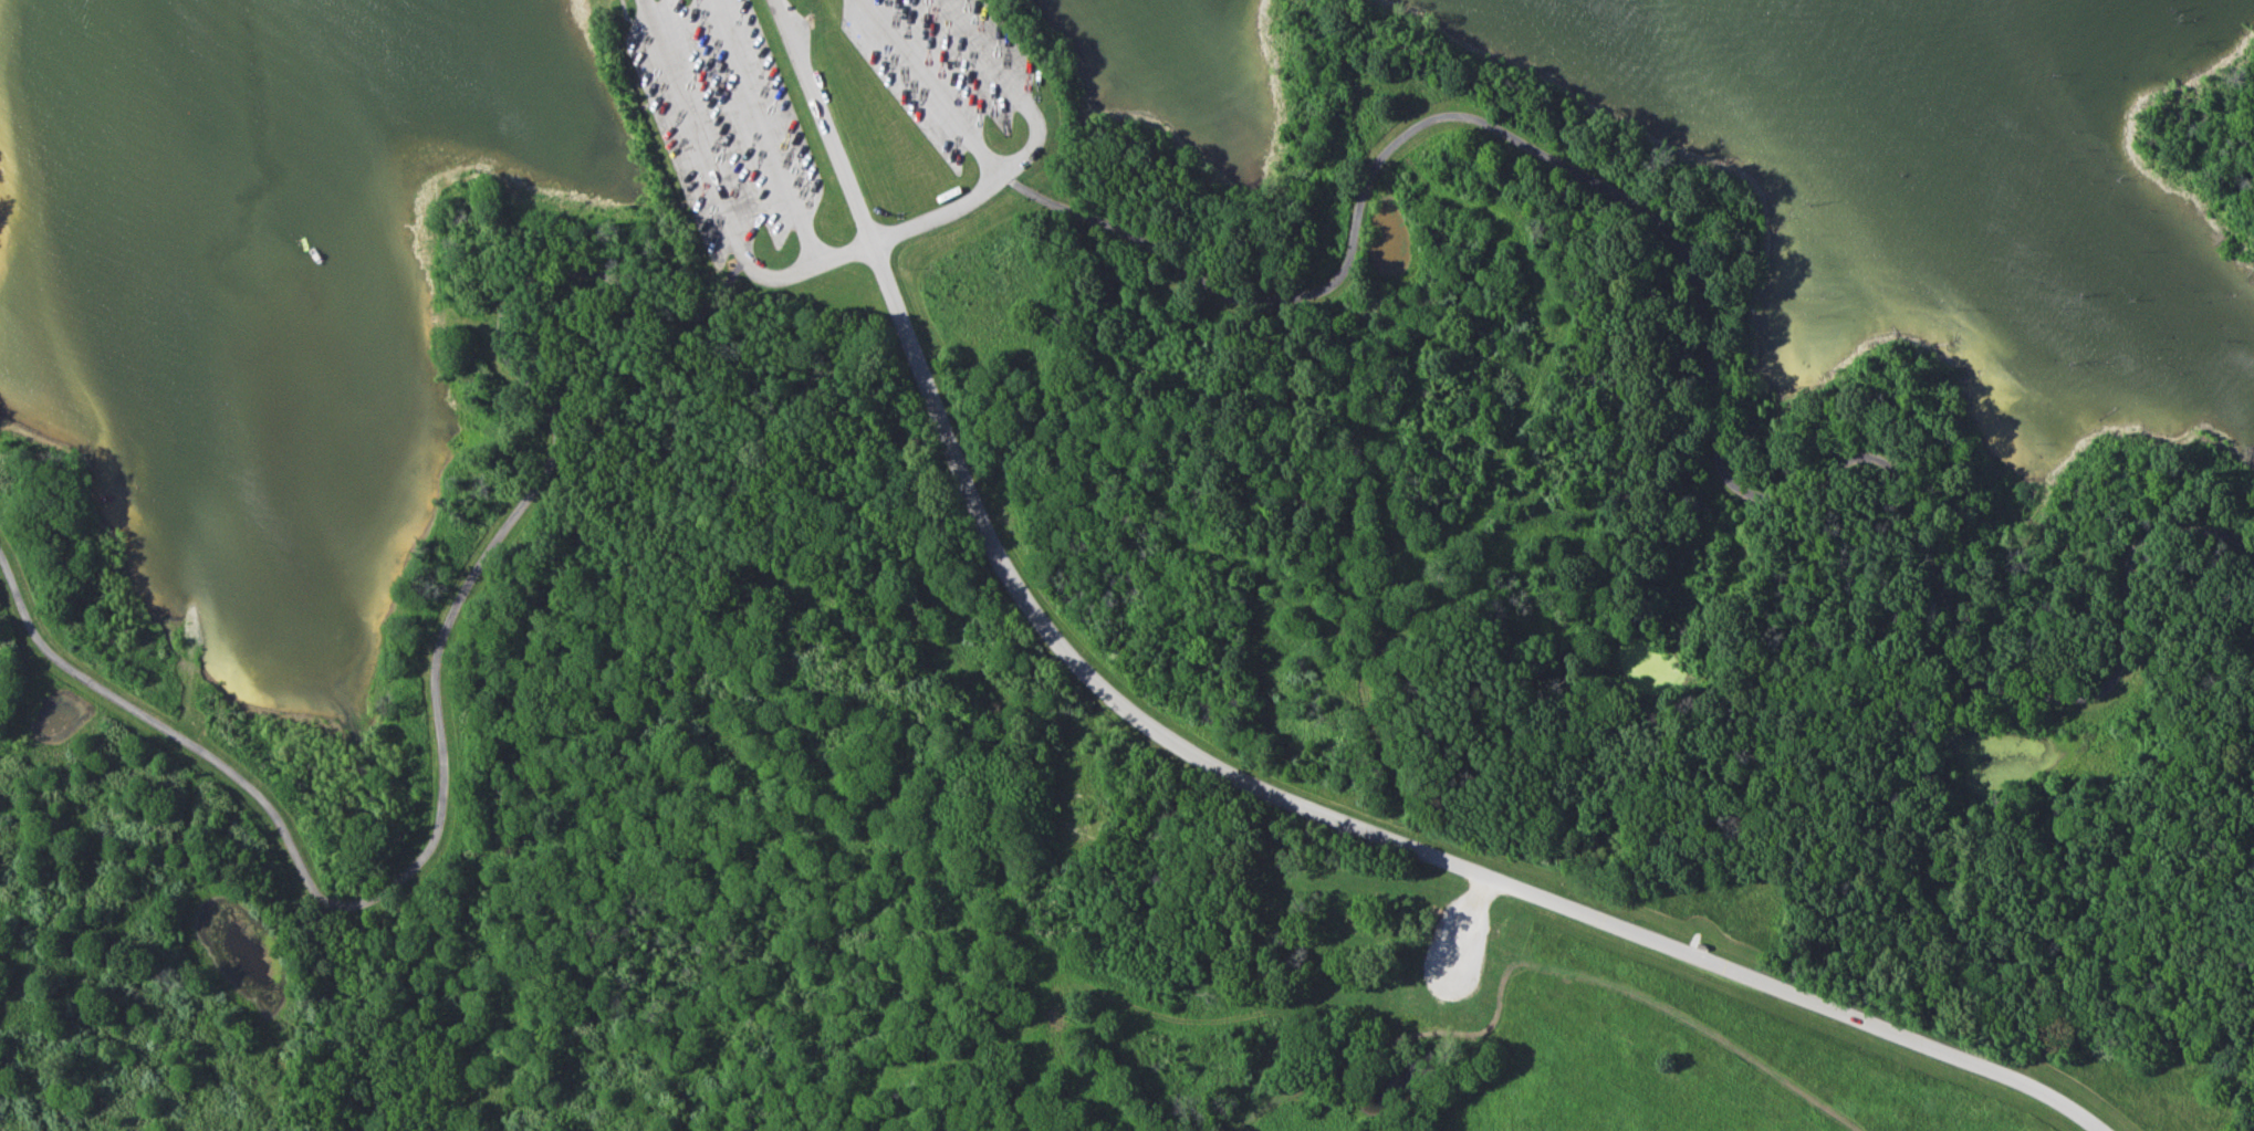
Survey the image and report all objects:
road: (648, 6)
road: (633, 19)
road: (985, 55)
parking lot: (951, 64)
road: (920, 74)
road: (756, 106)
parking lot: (726, 116)
road: (693, 125)
park: (1, 139)
park: (2214, 156)
road: (1021, 159)
road: (807, 237)
road: (741, 243)
road: (870, 243)
road: (1705, 352)
park: (1148, 654)
road: (441, 711)
road: (1239, 777)
road: (136, 913)
road: (1471, 931)
road: (1545, 968)
parking lot: (1453, 985)

